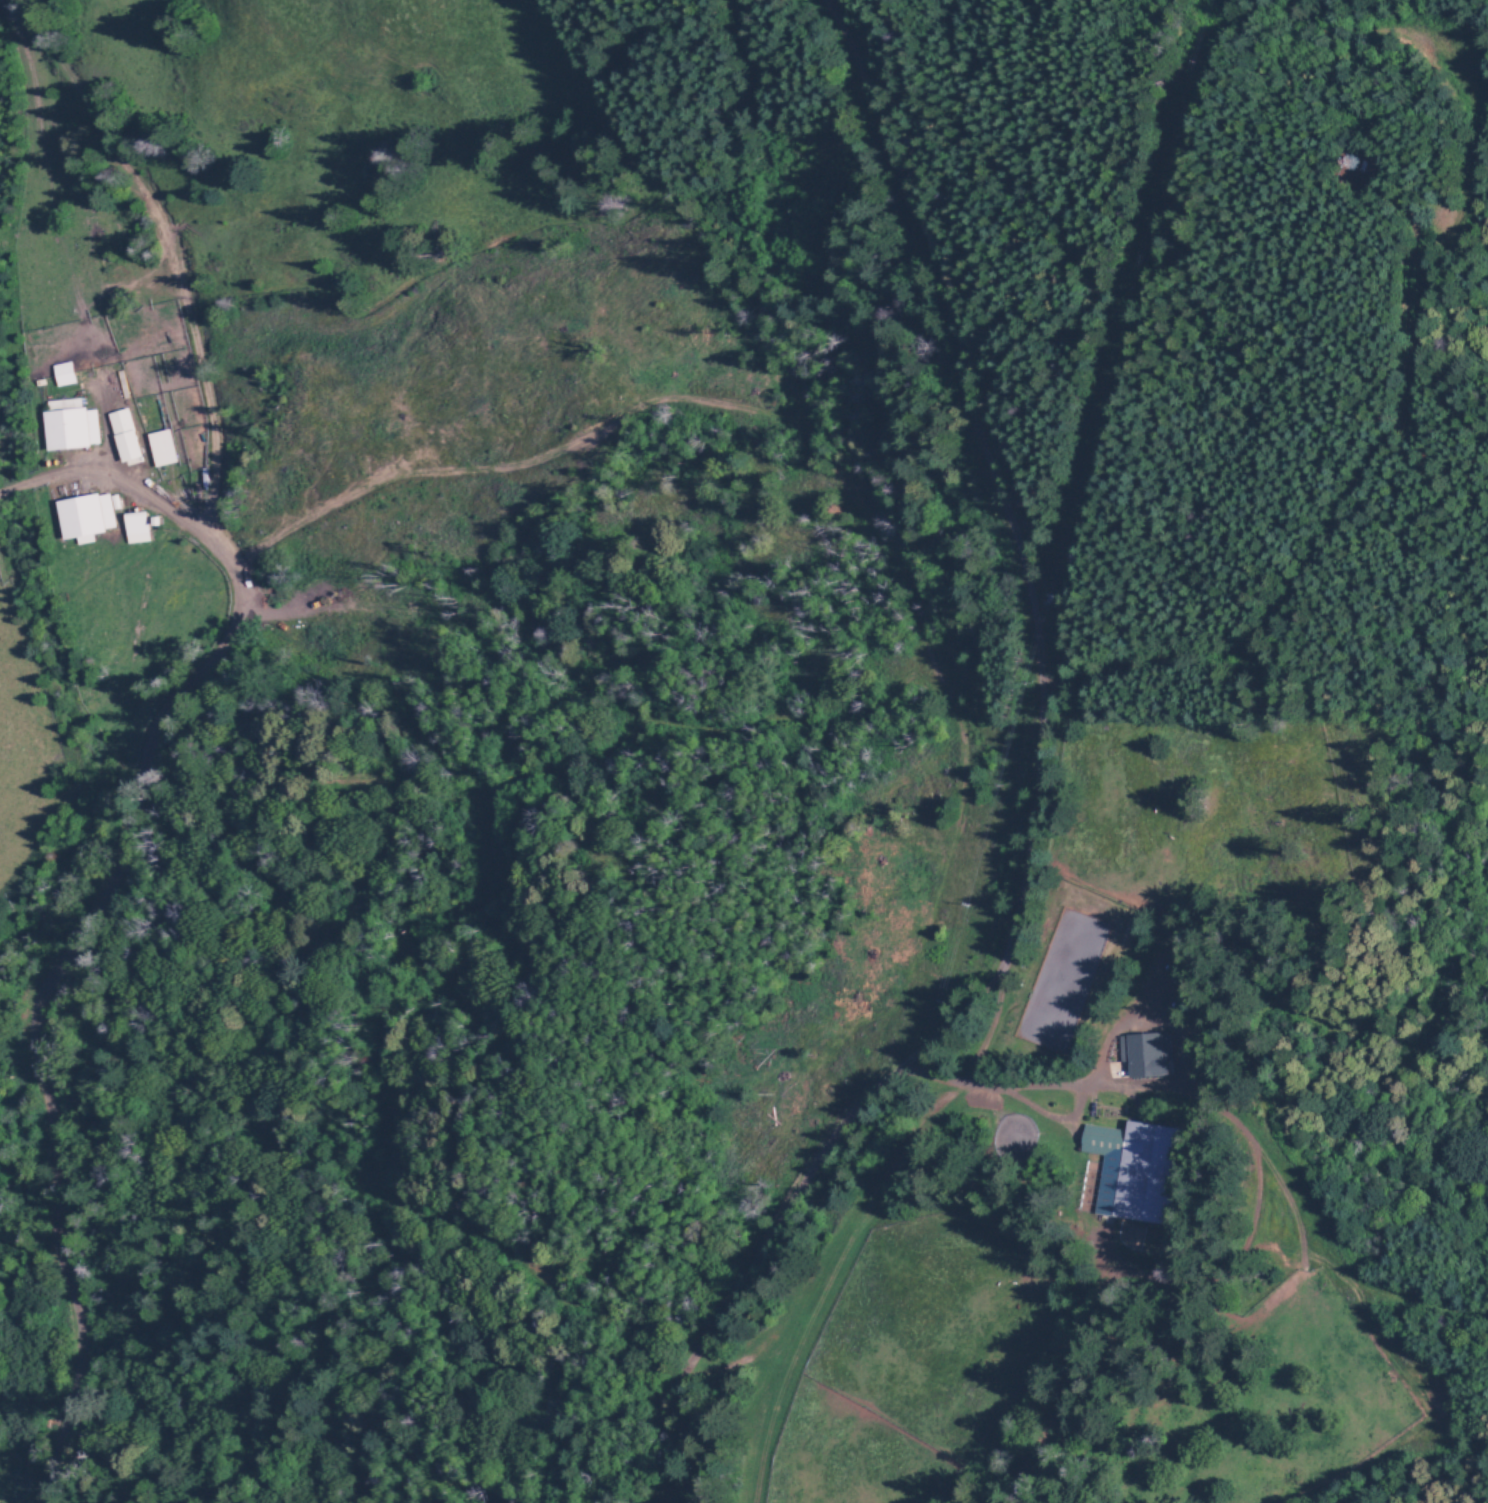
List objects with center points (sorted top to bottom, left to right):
building: (62, 374)
building: (70, 429)
building: (123, 435)
building: (160, 448)
building: (135, 527)
road: (1031, 806)
building: (1145, 1054)
building: (1135, 1171)
road: (594, 1472)

